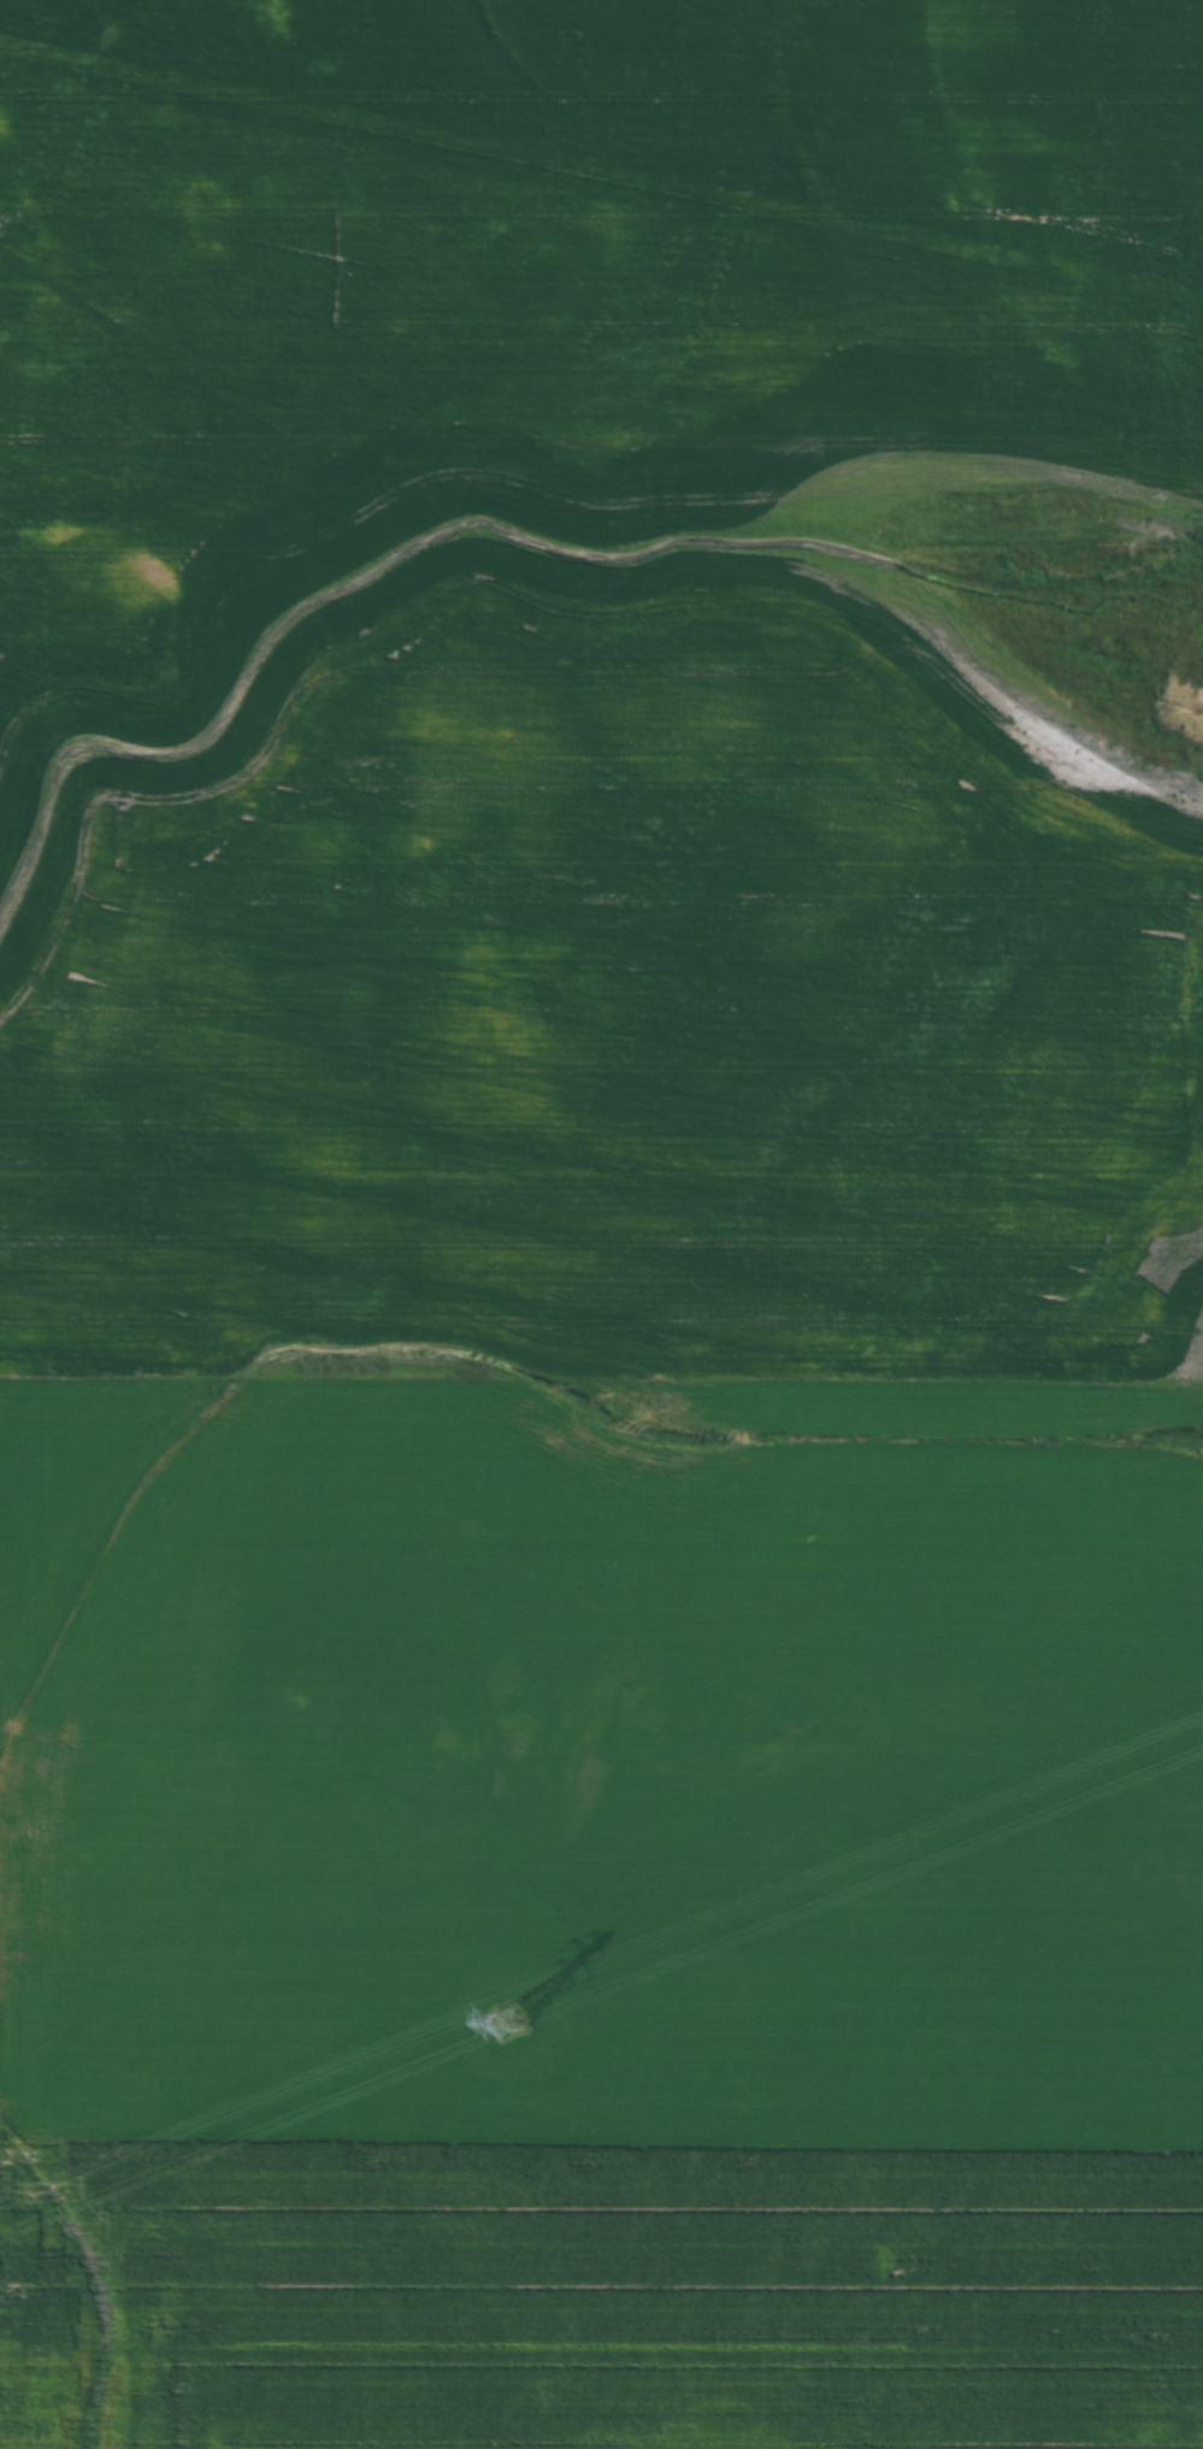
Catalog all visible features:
power tower: (509, 2023)

